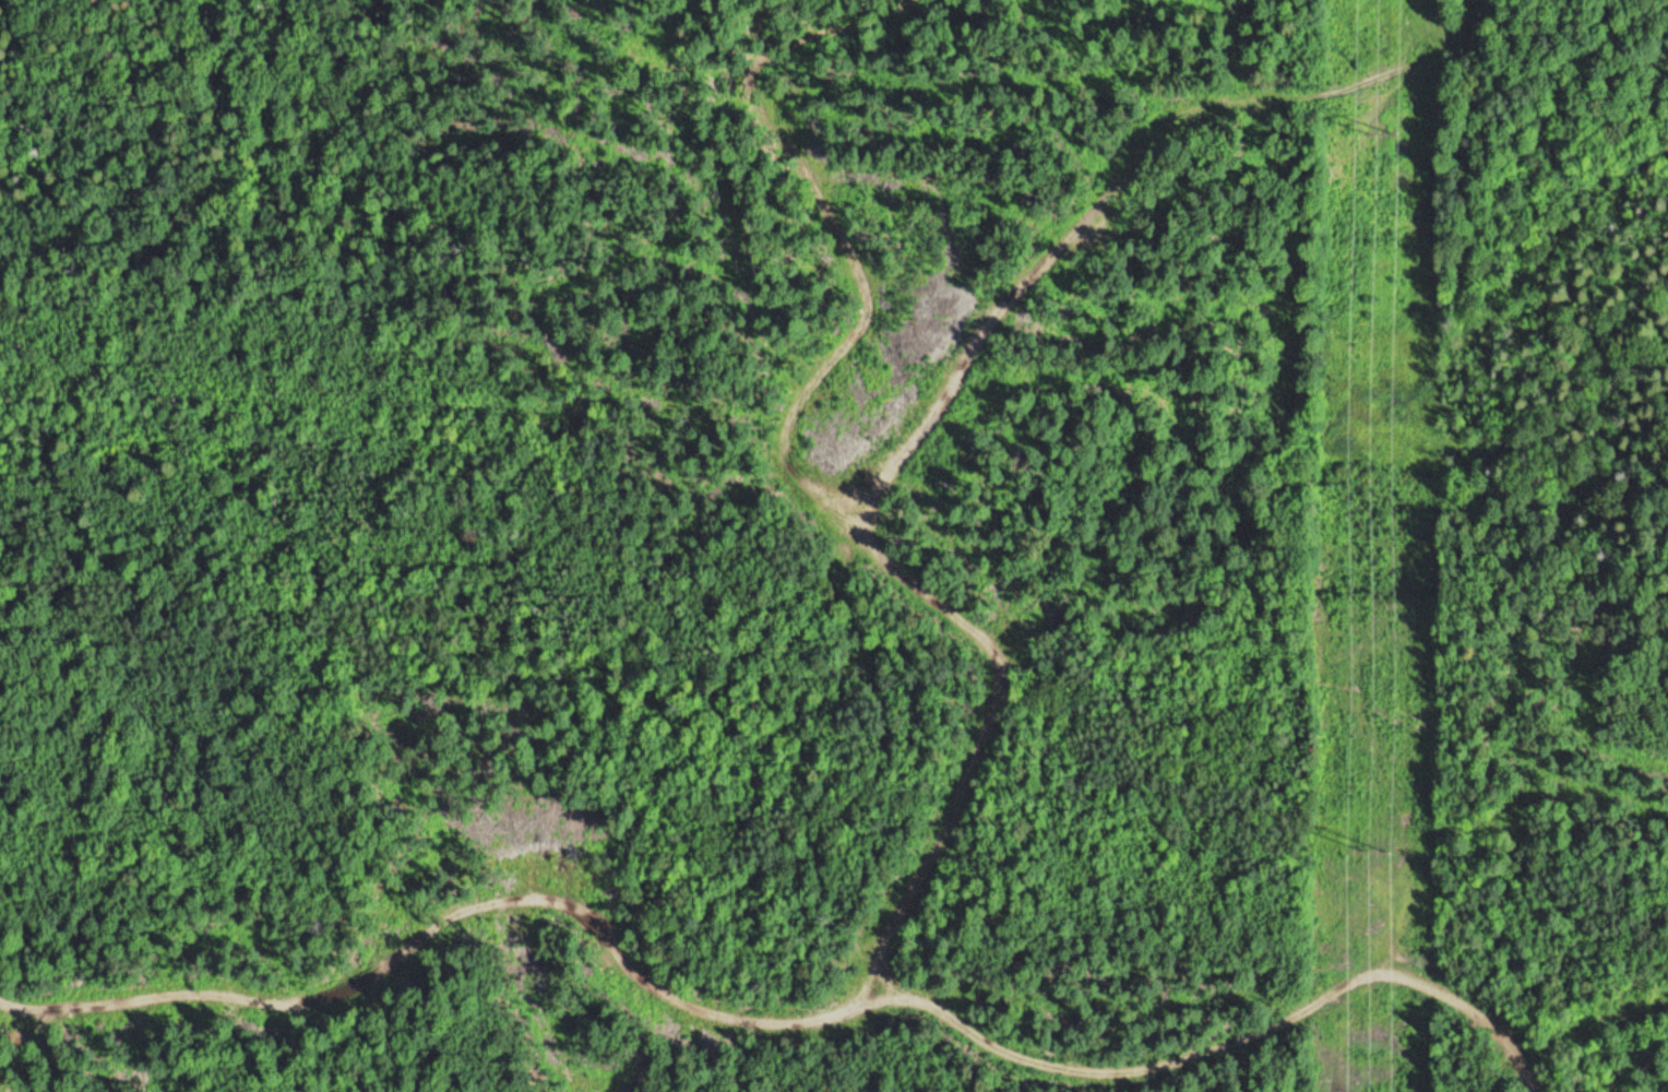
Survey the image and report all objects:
power tower: (1397, 138)
power tower: (1380, 848)

